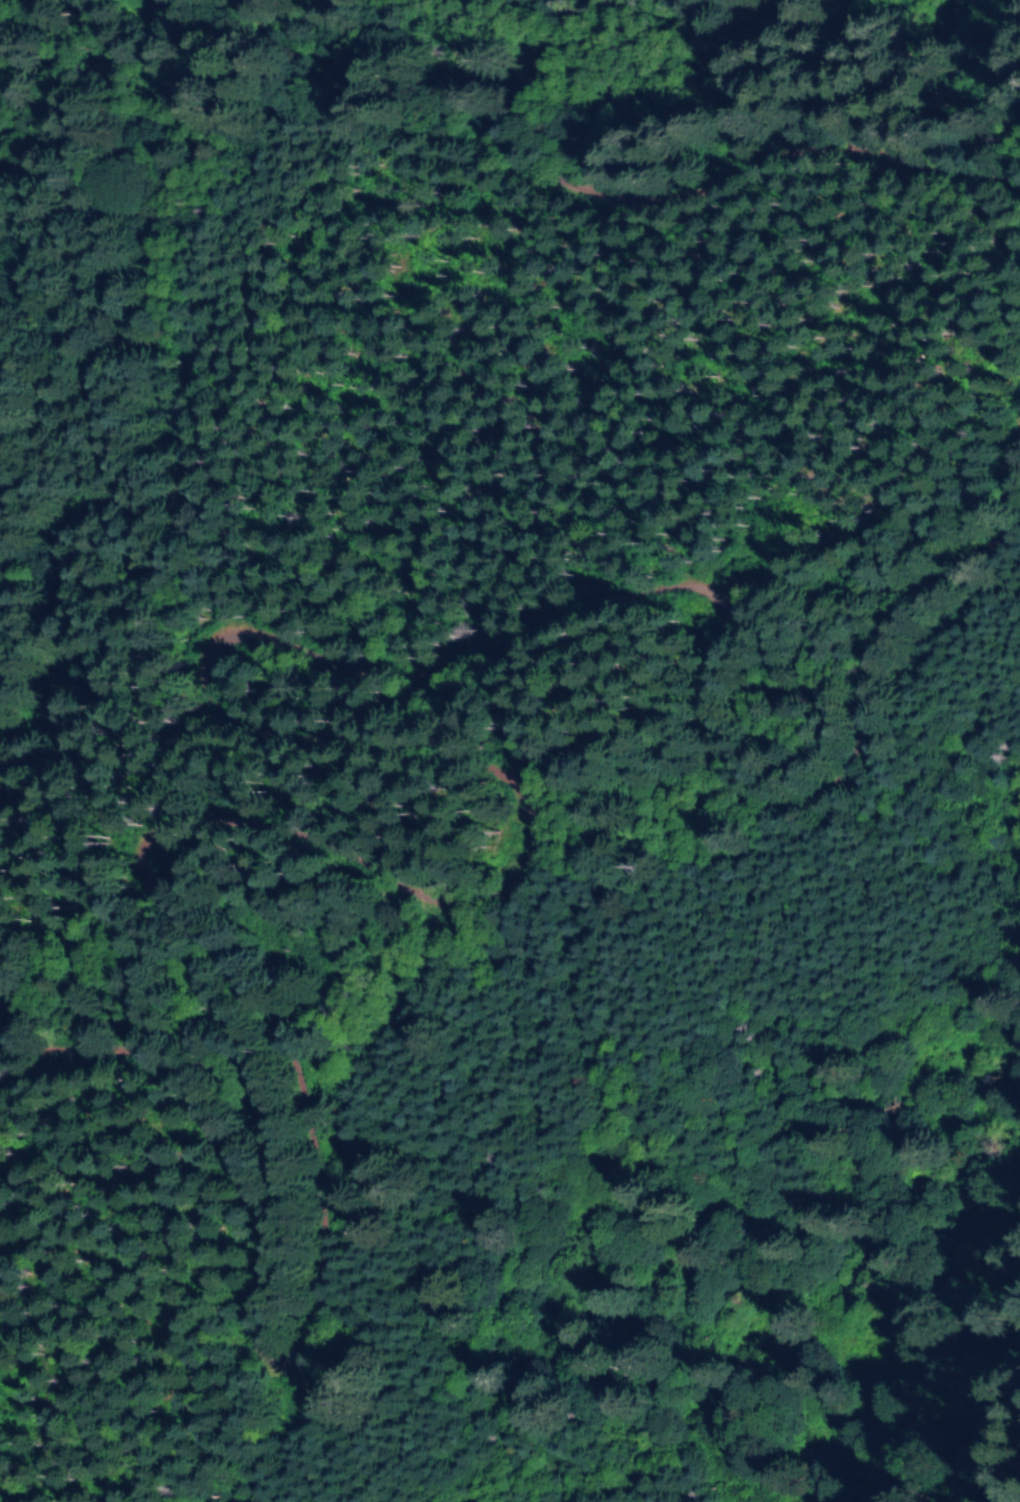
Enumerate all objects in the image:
road: (696, 165)
road: (377, 699)

